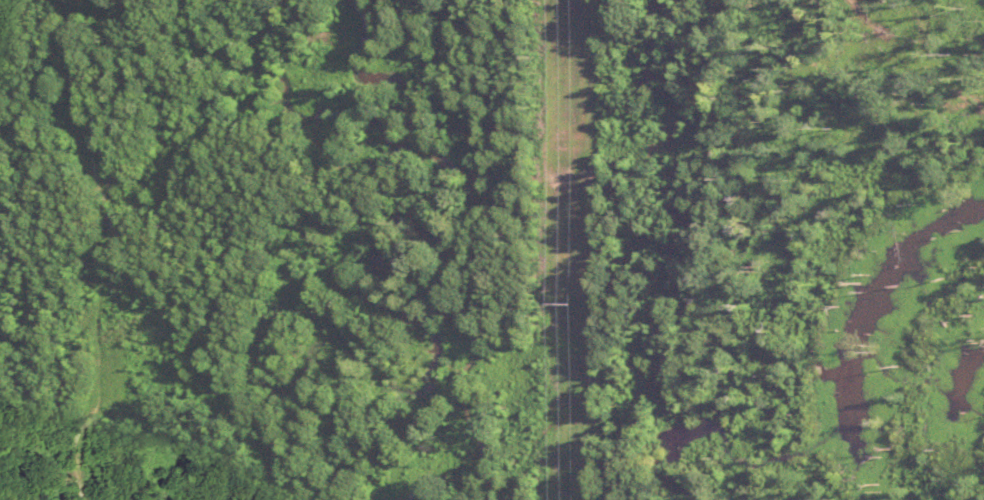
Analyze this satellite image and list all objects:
power tower: (570, 301)

